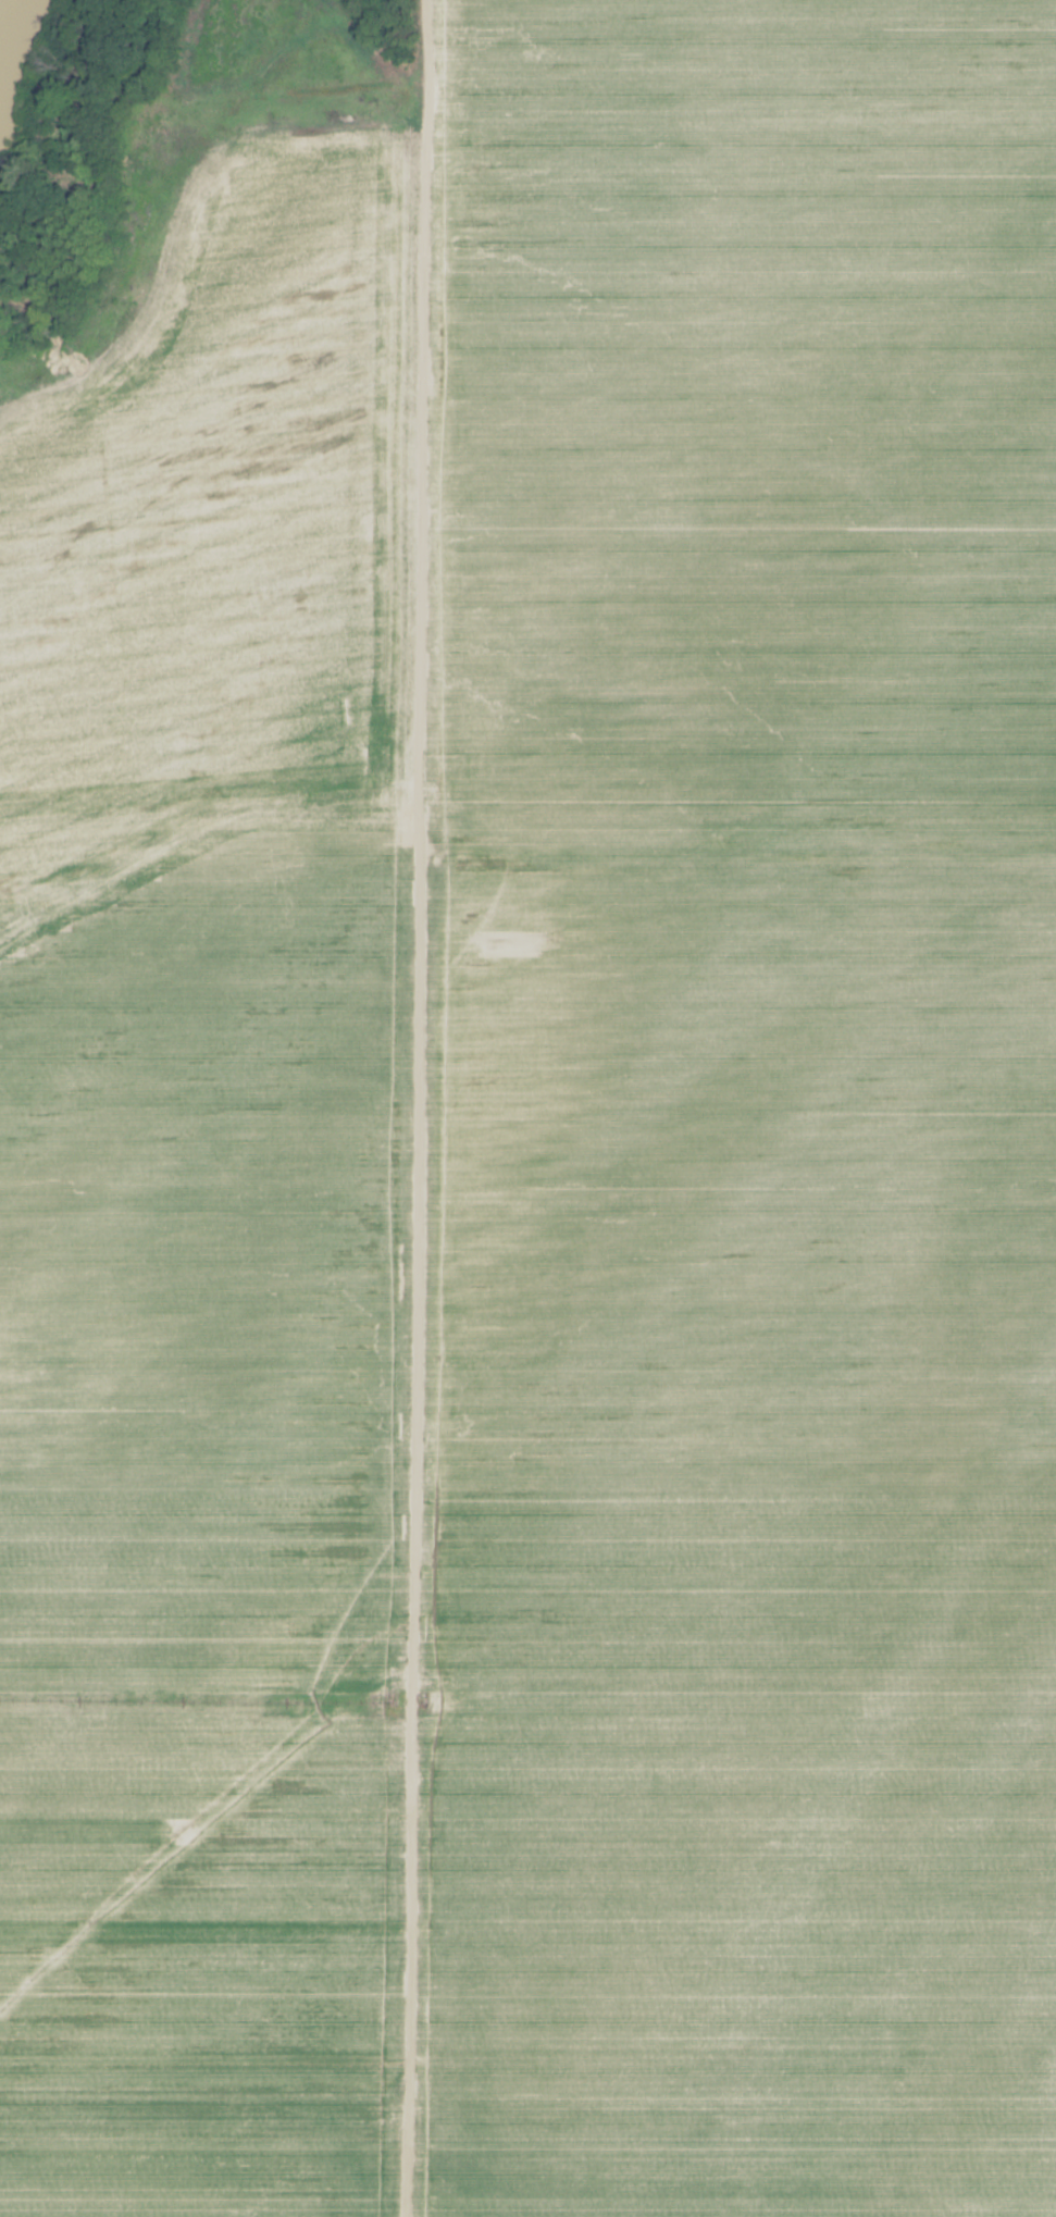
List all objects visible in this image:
road: (417, 425)
road: (735, 849)
road: (413, 1534)

